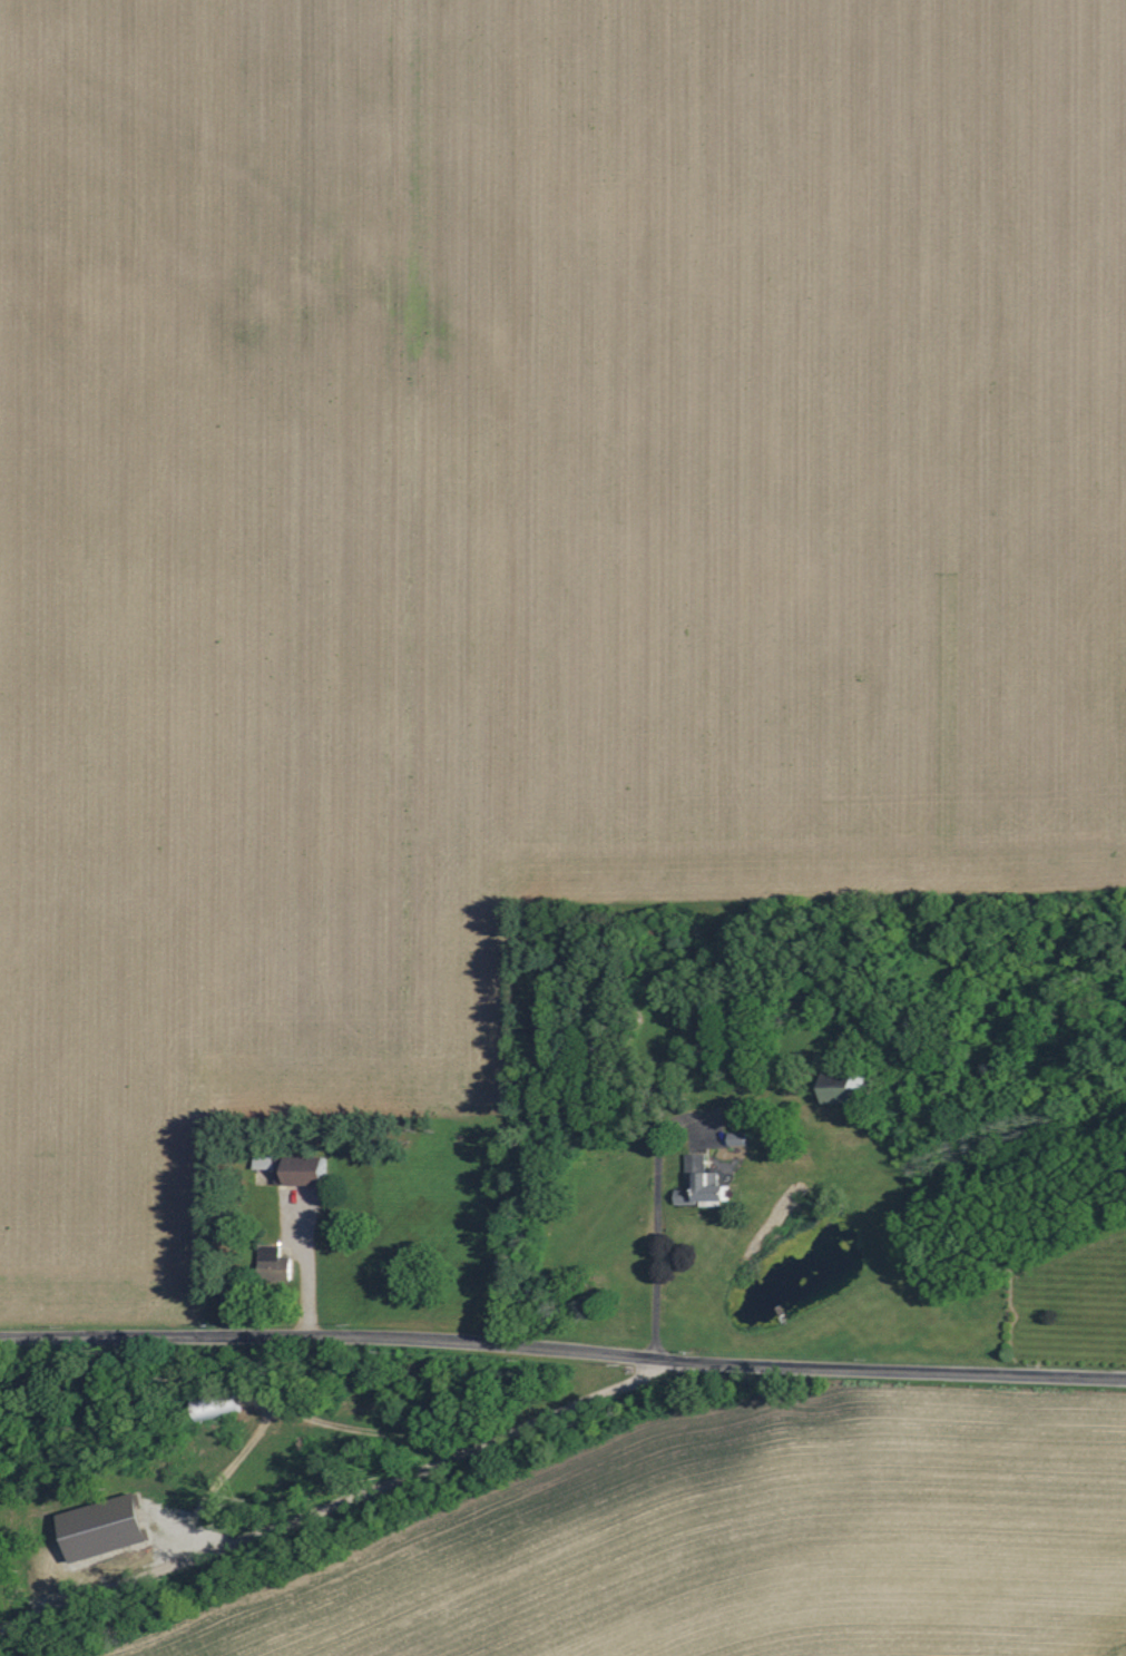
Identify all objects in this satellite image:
building: (264, 1163)
building: (302, 1172)
building: (703, 1184)
road: (658, 1246)
building: (275, 1263)
road: (562, 1344)
building: (214, 1407)
road: (280, 1412)
road: (336, 1503)
building: (105, 1528)

